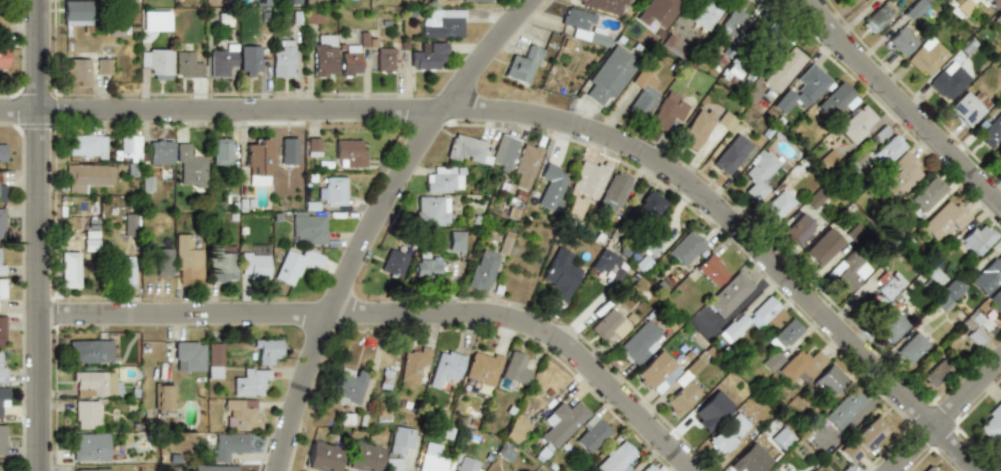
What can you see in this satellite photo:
building: (477, 1)
building: (294, 2)
building: (311, 2)
building: (993, 2)
building: (213, 3)
building: (261, 3)
building: (603, 5)
road: (798, 6)
building: (914, 9)
building: (77, 12)
building: (657, 13)
building: (705, 14)
building: (312, 15)
building: (997, 17)
building: (876, 18)
building: (145, 19)
building: (3, 20)
building: (733, 23)
building: (443, 24)
building: (583, 27)
building: (999, 34)
building: (901, 41)
building: (673, 45)
building: (323, 55)
building: (426, 56)
building: (4, 57)
building: (926, 57)
building: (222, 60)
building: (249, 60)
building: (283, 60)
building: (350, 60)
building: (384, 60)
building: (157, 63)
building: (522, 64)
building: (186, 65)
building: (86, 66)
building: (784, 70)
building: (610, 74)
building: (729, 75)
building: (948, 81)
building: (803, 89)
building: (643, 90)
building: (836, 100)
road: (901, 101)
building: (969, 107)
building: (667, 111)
road: (556, 119)
building: (725, 121)
building: (856, 124)
building: (696, 129)
building: (991, 133)
building: (86, 145)
building: (313, 146)
building: (130, 148)
building: (220, 150)
building: (888, 150)
building: (159, 151)
building: (287, 151)
building: (481, 151)
building: (349, 152)
building: (2, 153)
building: (730, 154)
building: (829, 160)
building: (257, 161)
building: (525, 165)
building: (188, 167)
building: (758, 174)
building: (86, 175)
building: (901, 176)
building: (589, 179)
building: (442, 180)
building: (551, 187)
building: (614, 191)
building: (1, 192)
building: (333, 192)
building: (927, 194)
building: (648, 205)
building: (776, 206)
building: (431, 210)
road: (374, 219)
building: (945, 220)
building: (2, 222)
building: (131, 223)
building: (308, 228)
building: (798, 229)
building: (856, 231)
road: (39, 235)
building: (978, 239)
building: (454, 242)
building: (90, 245)
building: (648, 245)
building: (824, 246)
building: (685, 248)
building: (187, 260)
building: (602, 261)
building: (163, 262)
building: (393, 263)
building: (254, 264)
building: (1, 265)
building: (220, 265)
building: (296, 265)
building: (425, 268)
building: (69, 269)
building: (711, 270)
building: (481, 271)
building: (992, 271)
building: (125, 272)
building: (848, 272)
building: (559, 274)
building: (613, 275)
building: (890, 284)
building: (2, 289)
building: (953, 289)
building: (729, 295)
building: (996, 300)
road: (396, 314)
building: (753, 320)
building: (979, 320)
building: (889, 325)
building: (608, 326)
building: (2, 331)
building: (787, 334)
building: (974, 336)
building: (640, 342)
building: (911, 348)
building: (265, 350)
building: (90, 351)
building: (188, 356)
building: (214, 360)
building: (772, 361)
building: (411, 364)
building: (801, 366)
building: (2, 367)
building: (481, 368)
building: (444, 369)
building: (512, 370)
building: (935, 372)
building: (657, 373)
building: (829, 381)
building: (249, 382)
building: (95, 384)
building: (346, 386)
building: (4, 392)
building: (164, 397)
building: (681, 397)
building: (845, 409)
building: (712, 411)
building: (241, 413)
building: (88, 414)
road: (946, 416)
building: (991, 421)
building: (561, 423)
building: (515, 429)
building: (591, 434)
building: (728, 434)
building: (781, 438)
building: (863, 439)
building: (2, 440)
building: (398, 440)
building: (227, 445)
building: (90, 446)
building: (998, 451)
building: (321, 456)
building: (361, 457)
building: (429, 457)
building: (616, 459)
building: (751, 460)
building: (392, 464)
building: (465, 464)
building: (215, 468)
building: (647, 468)
building: (929, 468)
building: (90, 469)

